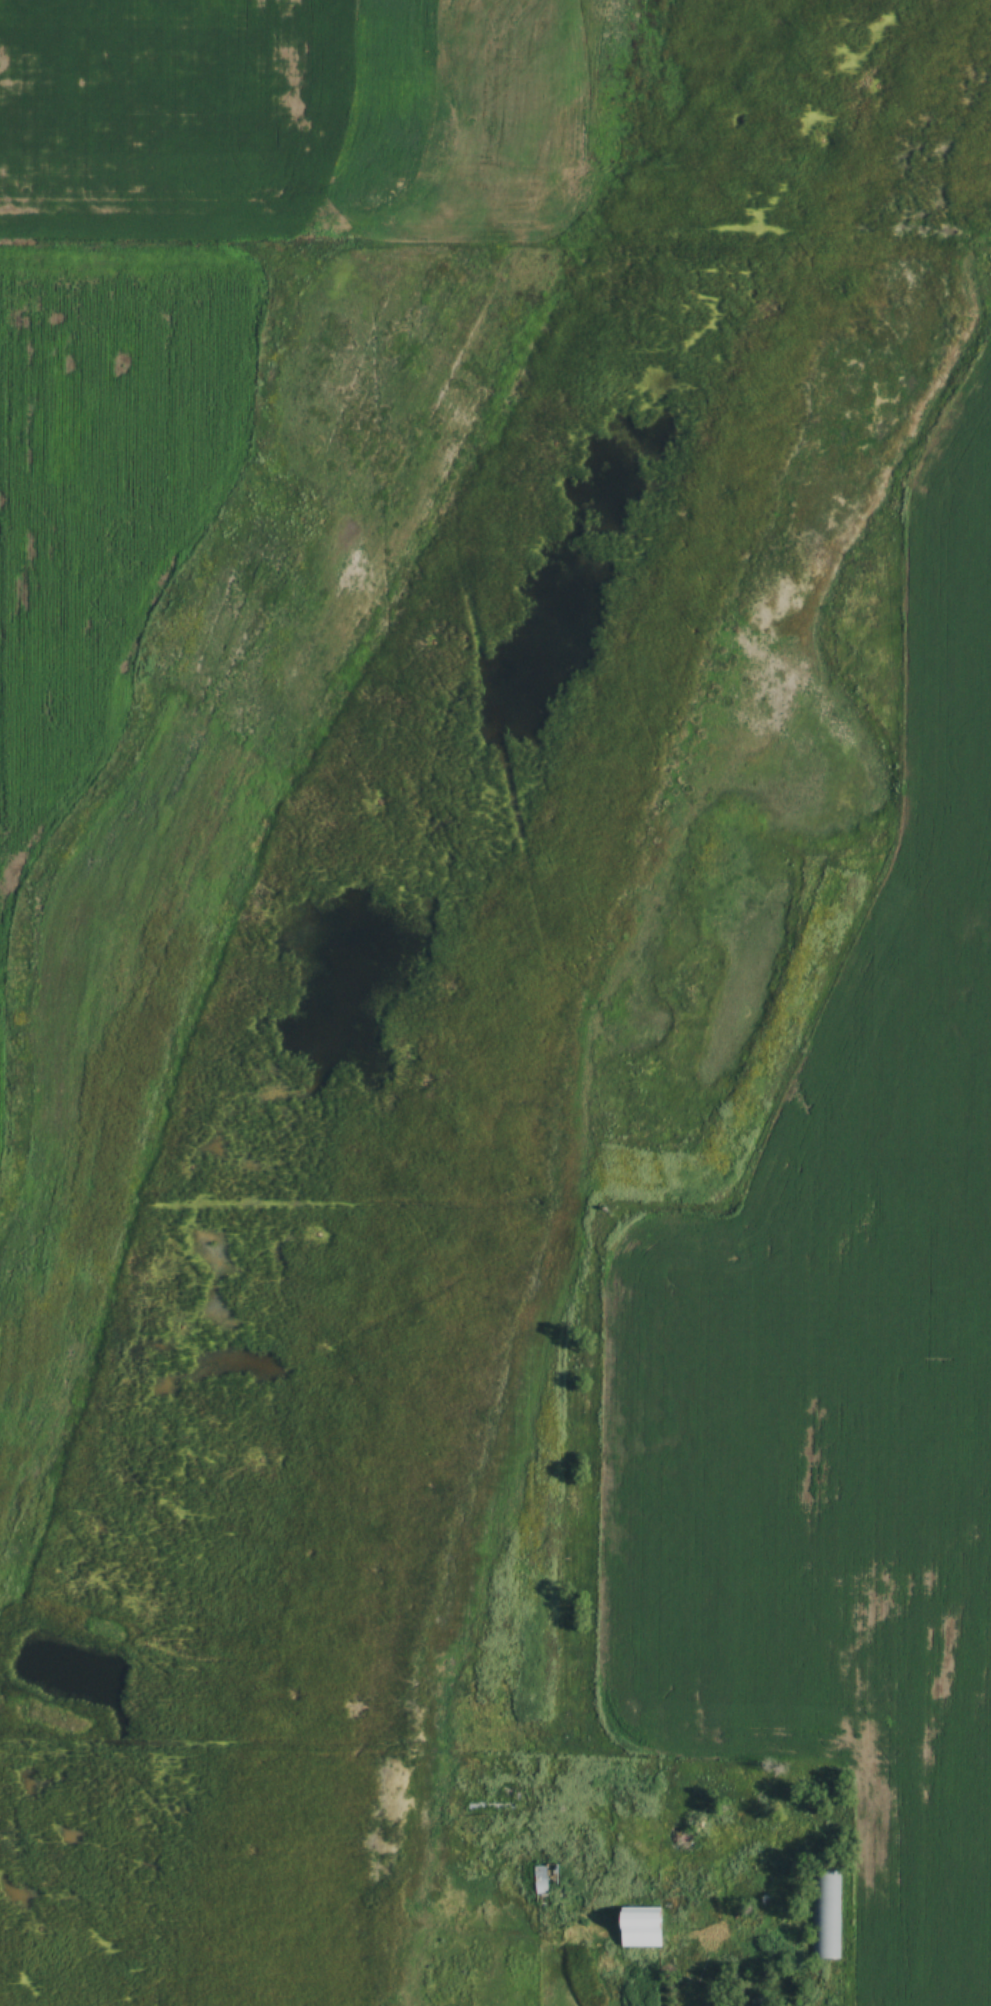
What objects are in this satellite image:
building: (542, 1878)
building: (825, 1913)
building: (644, 1926)

